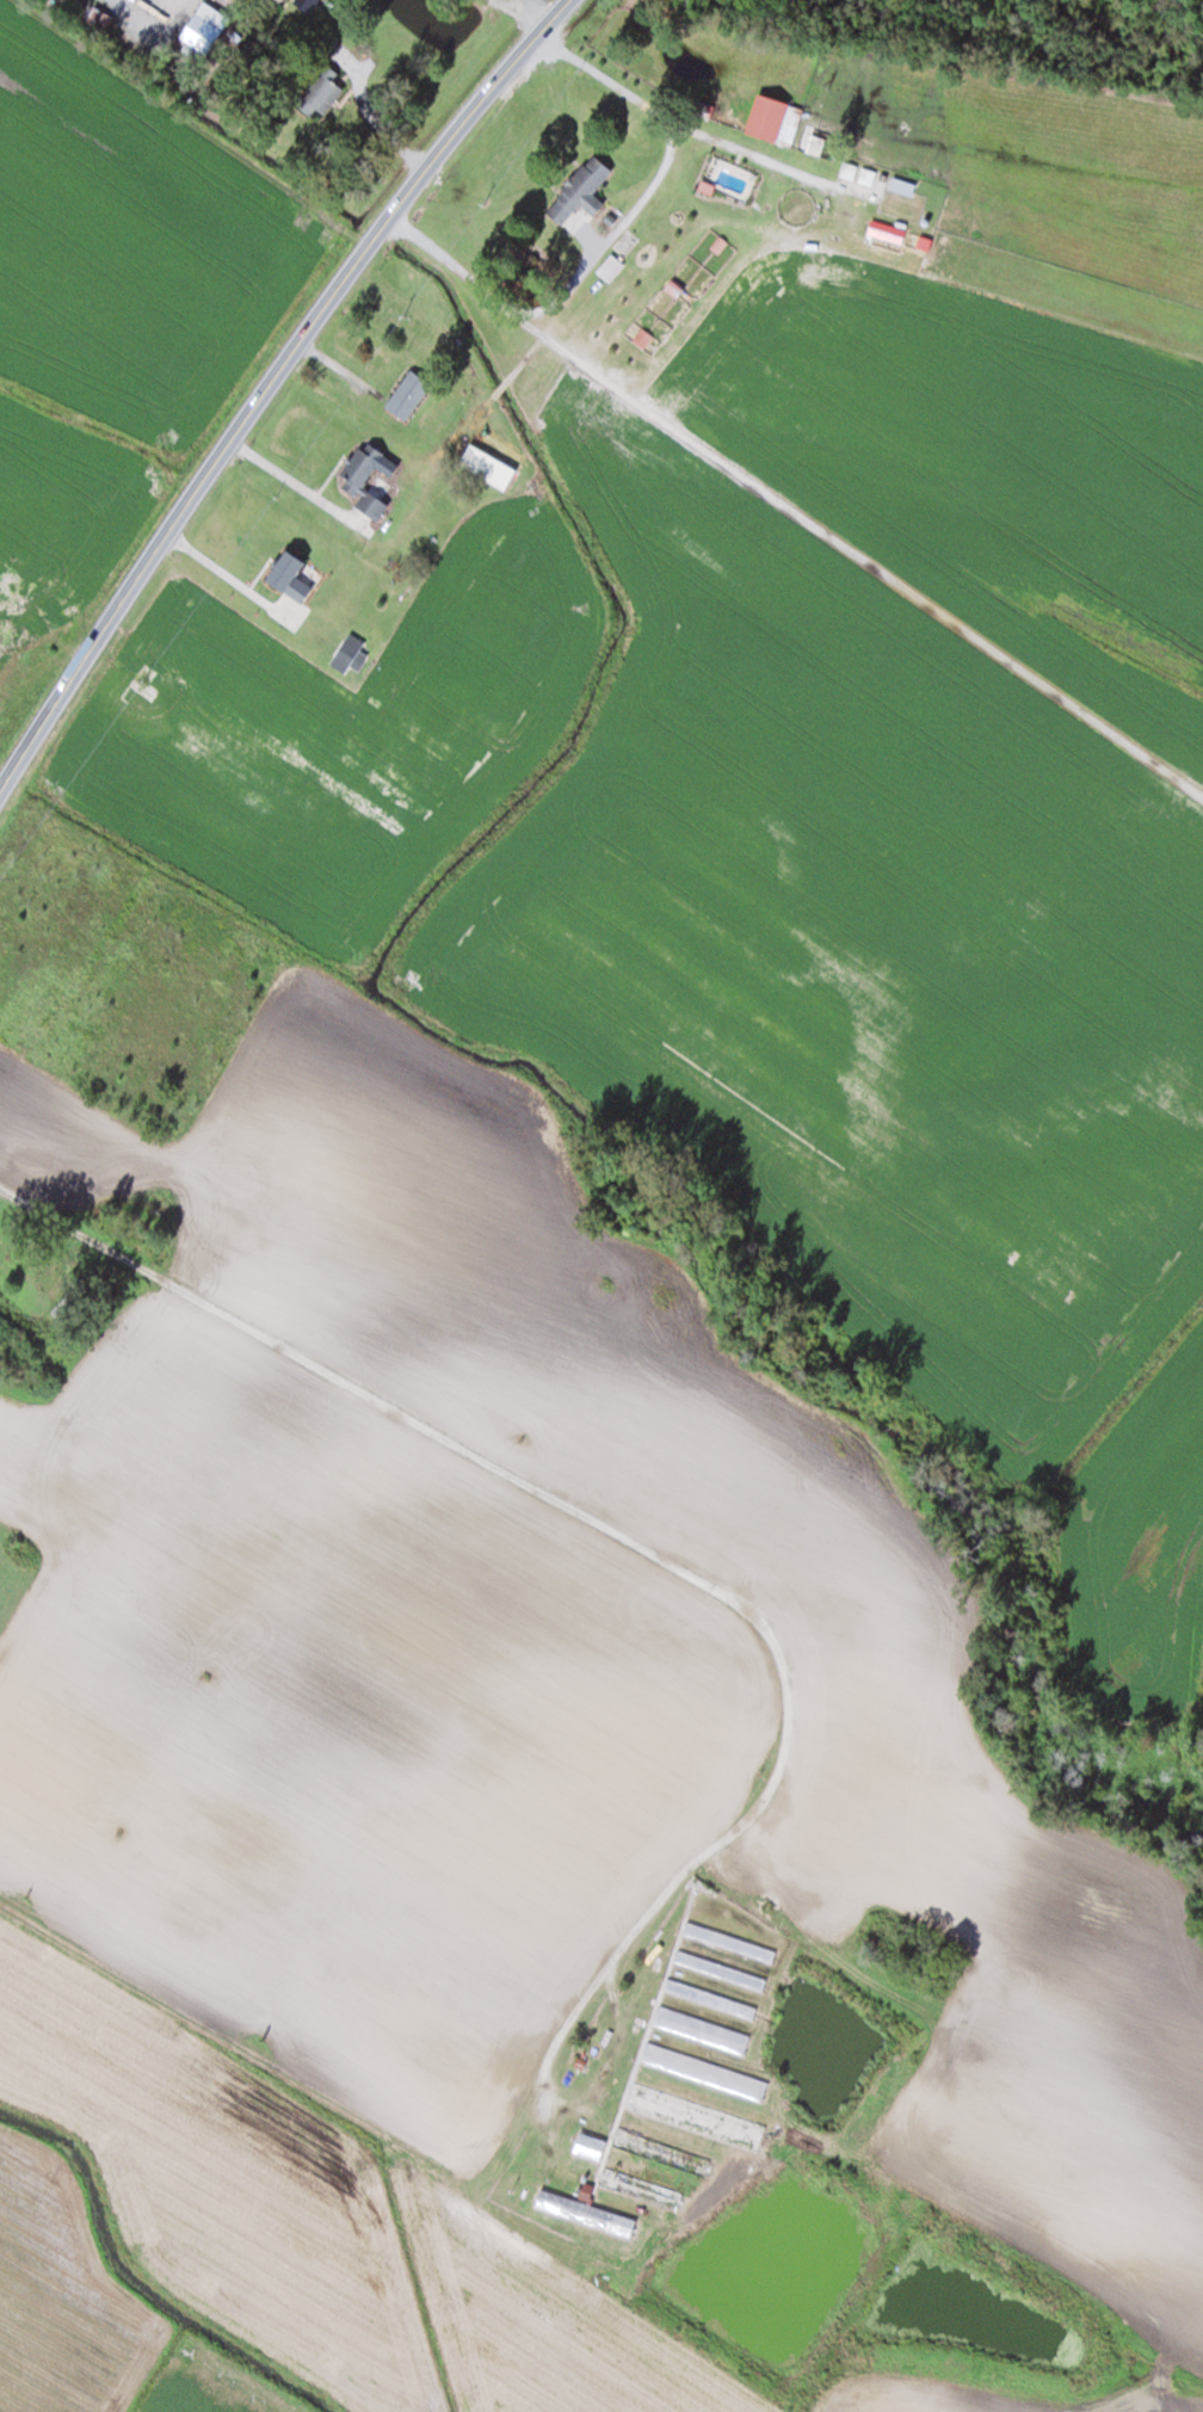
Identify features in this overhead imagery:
building: (212, 29)
building: (321, 91)
building: (773, 118)
building: (810, 144)
building: (849, 169)
building: (866, 175)
building: (902, 185)
building: (580, 190)
building: (610, 267)
road: (266, 383)
building: (407, 394)
building: (487, 465)
building: (363, 479)
road: (798, 495)
building: (56, 611)
road: (525, 1479)
building: (728, 1939)
building: (718, 1968)
building: (702, 2038)
building: (693, 2115)
building: (590, 2145)
building: (664, 2147)
building: (638, 2186)
building: (582, 2209)

